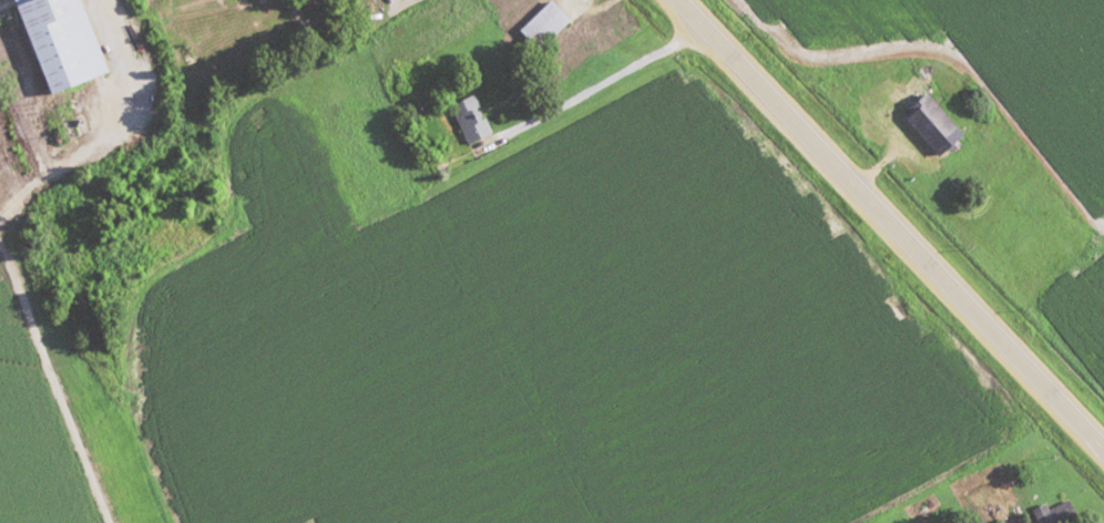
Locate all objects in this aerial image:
building: (541, 25)
building: (55, 42)
road: (596, 83)
road: (228, 107)
building: (922, 115)
building: (468, 119)
road: (68, 148)
road: (889, 226)
road: (54, 390)
building: (1052, 513)
building: (1016, 522)

